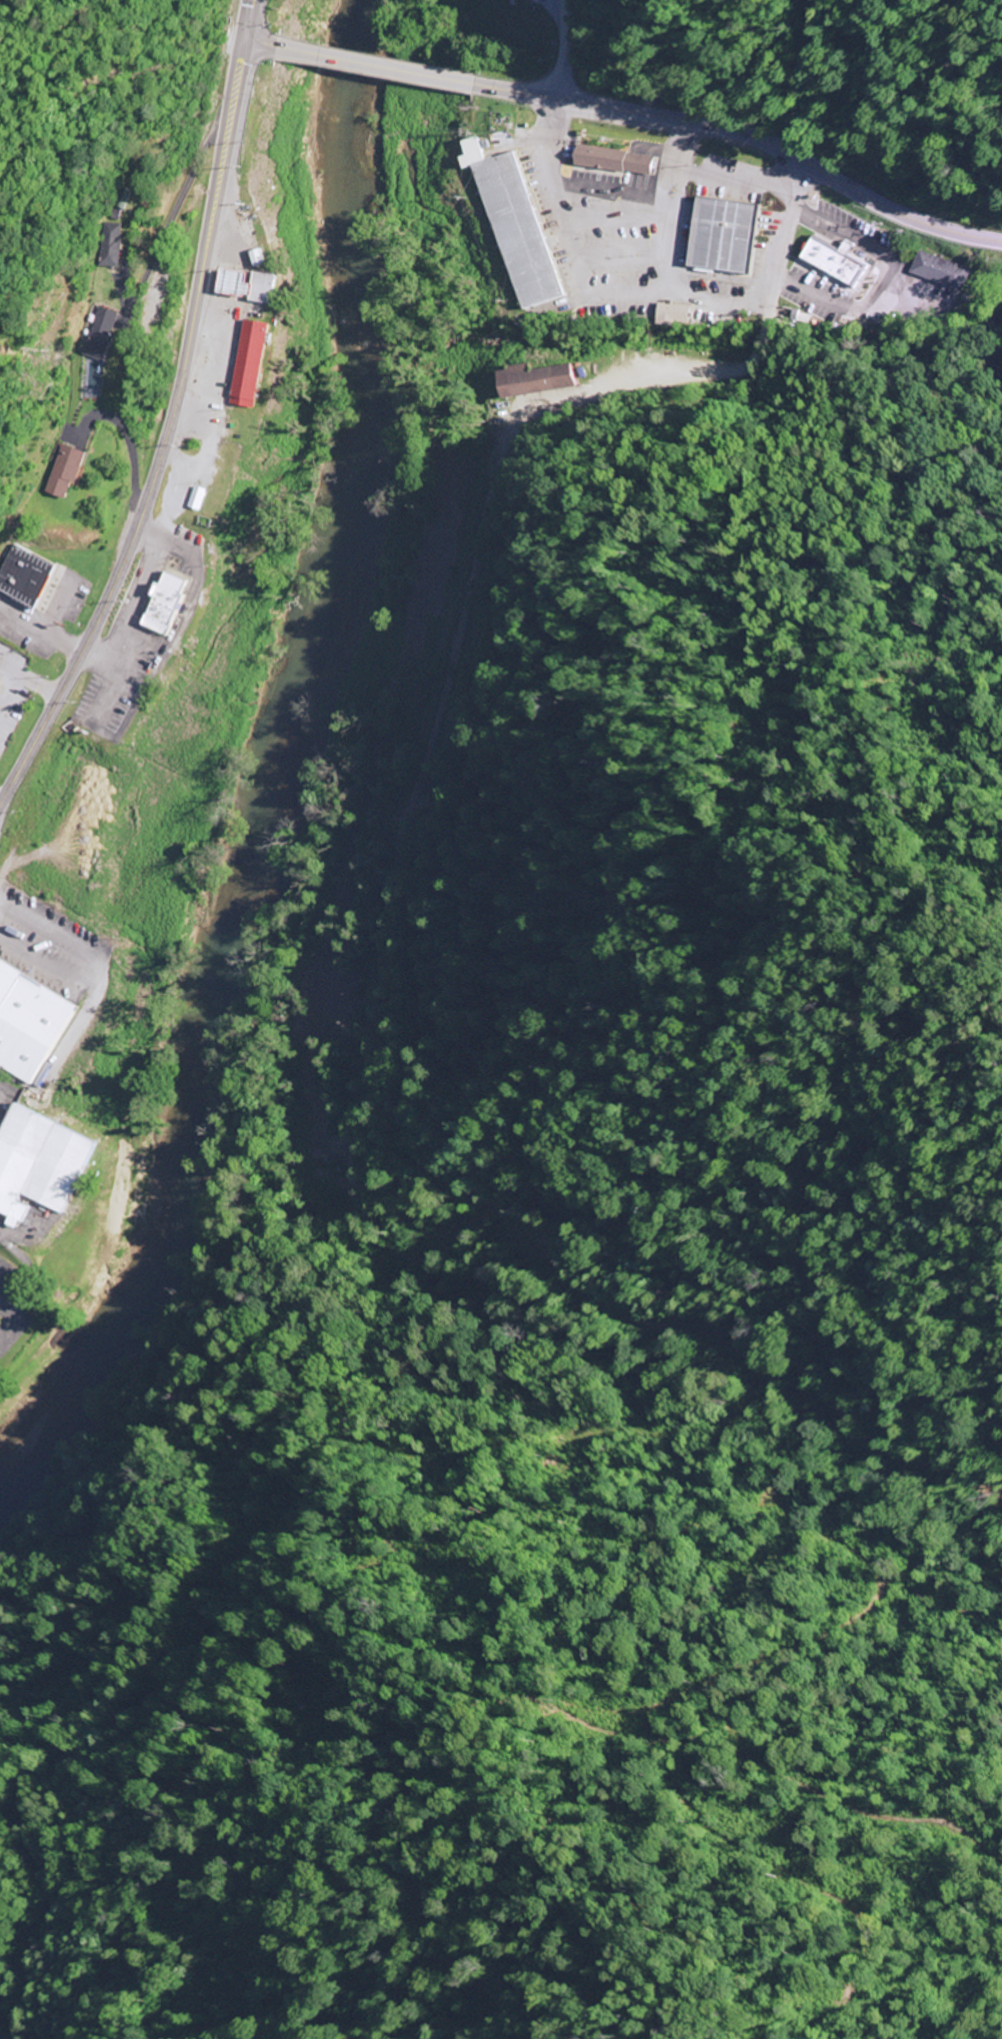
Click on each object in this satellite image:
road: (240, 20)
road: (255, 44)
road: (564, 50)
road: (374, 66)
road: (746, 139)
building: (472, 151)
building: (600, 156)
building: (639, 163)
road: (176, 203)
parking lot: (656, 224)
building: (518, 229)
building: (723, 235)
building: (101, 245)
building: (256, 257)
building: (834, 259)
building: (938, 269)
building: (231, 282)
building: (261, 287)
road: (190, 310)
building: (592, 311)
building: (672, 314)
building: (92, 335)
building: (248, 364)
road: (733, 370)
building: (534, 379)
building: (60, 473)
building: (194, 499)
building: (19, 577)
building: (161, 604)
road: (60, 687)
river: (258, 761)
building: (27, 1025)
building: (36, 1165)

